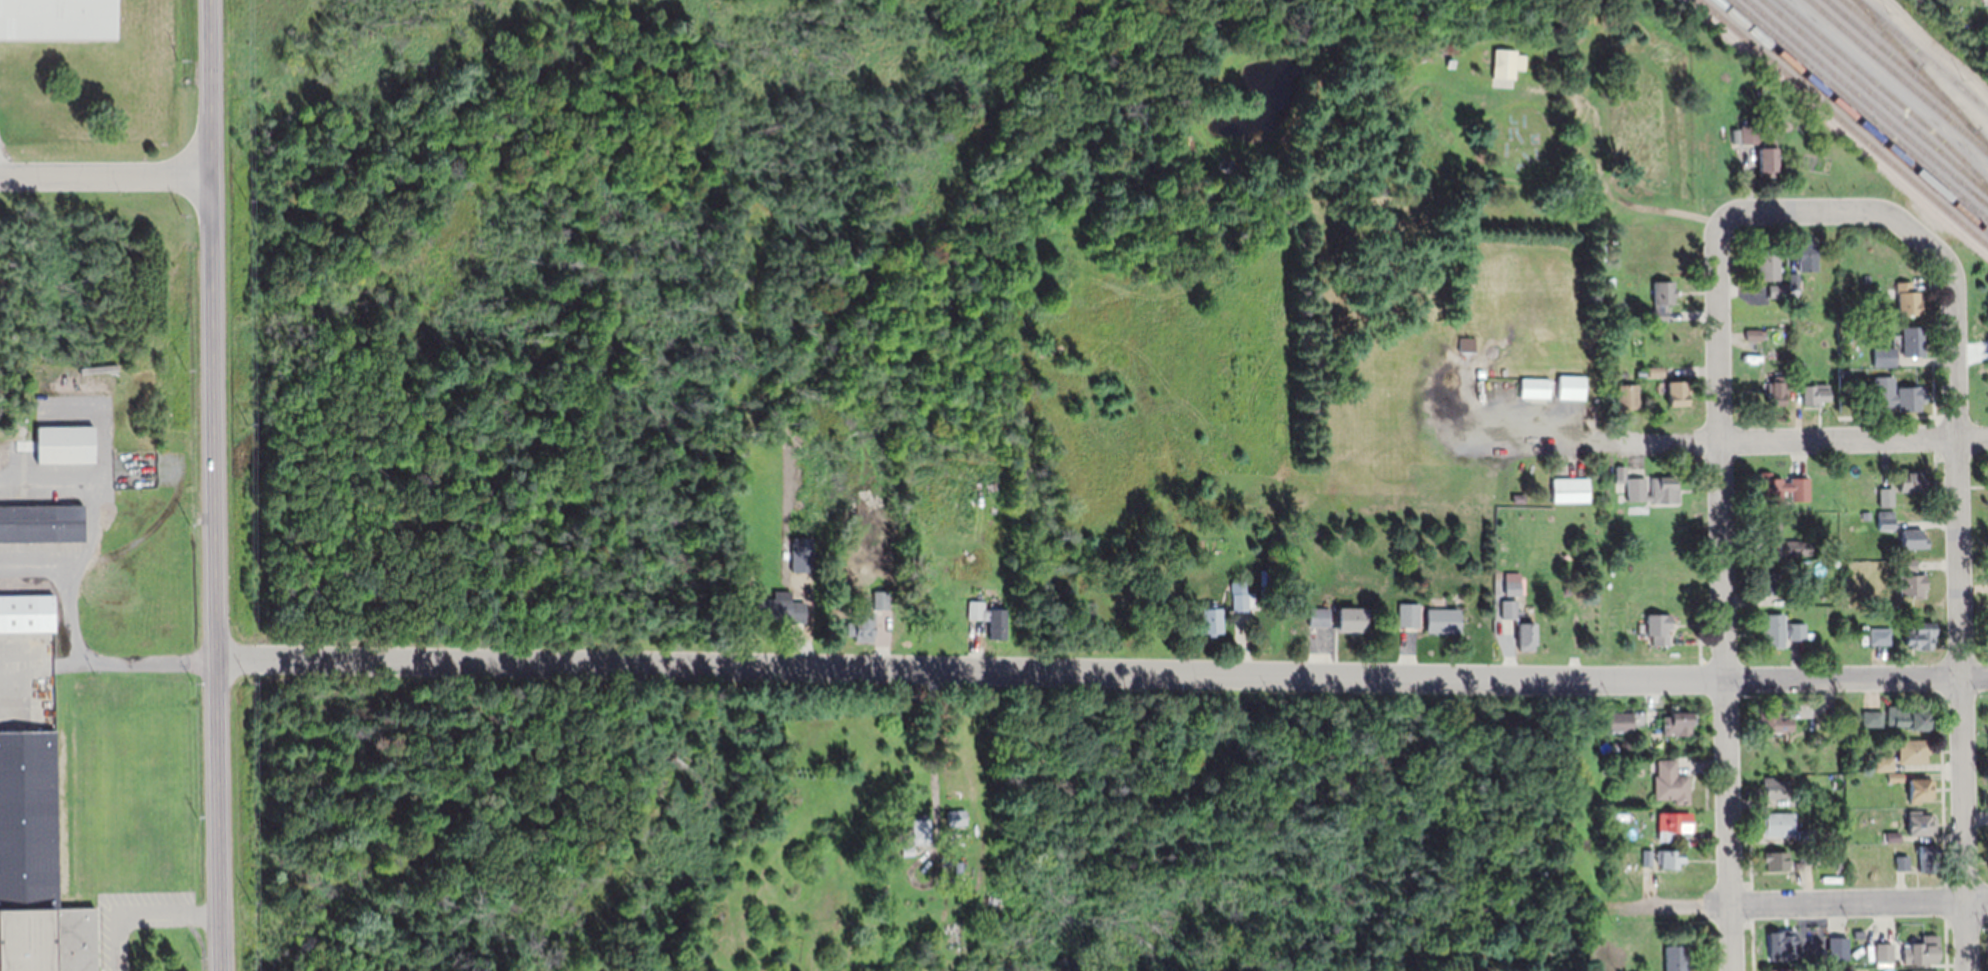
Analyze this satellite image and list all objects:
building: (57, 19)
railway: (1880, 31)
railway: (1924, 54)
railway: (1901, 63)
building: (1505, 64)
railway: (1922, 71)
railway: (1898, 76)
road: (1892, 83)
railway: (1885, 90)
railway: (1876, 95)
railway: (1868, 101)
railway: (1860, 108)
railway: (1851, 116)
railway: (1844, 122)
building: (1749, 135)
building: (1765, 160)
road: (101, 167)
road: (1800, 210)
building: (1805, 255)
building: (1767, 262)
building: (1793, 281)
building: (1776, 291)
building: (1660, 299)
building: (1906, 299)
building: (1753, 334)
building: (1912, 342)
building: (1464, 344)
building: (1884, 357)
building: (1654, 372)
building: (106, 382)
building: (1533, 388)
building: (1569, 388)
building: (1775, 390)
building: (1674, 394)
building: (1812, 394)
building: (1626, 395)
building: (1898, 396)
road: (1800, 440)
building: (64, 443)
building: (1618, 474)
building: (799, 475)
building: (1907, 482)
road: (212, 485)
building: (991, 485)
building: (795, 486)
building: (1780, 487)
building: (1568, 491)
building: (1651, 491)
building: (1884, 496)
building: (1884, 519)
building: (41, 522)
building: (1766, 530)
building: (1912, 538)
building: (1795, 547)
building: (800, 559)
building: (1906, 564)
road: (1960, 576)
building: (1767, 579)
building: (1910, 584)
building: (1511, 586)
building: (1237, 594)
building: (1792, 596)
building: (881, 599)
road: (1725, 599)
building: (962, 601)
building: (781, 607)
building: (1507, 607)
building: (26, 612)
building: (1407, 613)
building: (1316, 614)
building: (987, 616)
building: (1350, 618)
building: (1210, 619)
building: (1441, 619)
building: (1656, 623)
building: (861, 626)
building: (1778, 629)
building: (1917, 634)
building: (1524, 635)
building: (1878, 635)
road: (108, 661)
road: (1102, 668)
building: (1907, 716)
building: (1767, 718)
building: (1871, 718)
building: (1619, 721)
building: (1674, 723)
building: (1912, 749)
building: (1883, 763)
building: (1894, 776)
building: (1669, 782)
building: (1772, 786)
building: (1918, 788)
building: (957, 816)
building: (1919, 822)
building: (1777, 823)
road: (1942, 824)
building: (1670, 825)
building: (919, 829)
building: (1001, 829)
building: (1891, 835)
building: (953, 841)
building: (907, 850)
building: (890, 851)
building: (1645, 856)
building: (1927, 857)
building: (1668, 858)
building: (1775, 860)
building: (1901, 862)
building: (35, 864)
road: (1751, 875)
road: (1805, 905)
road: (139, 916)
building: (1782, 943)
building: (1835, 947)
building: (1923, 949)
building: (927, 950)
building: (1884, 951)
building: (1674, 957)
building: (1776, 969)
building: (1916, 970)

